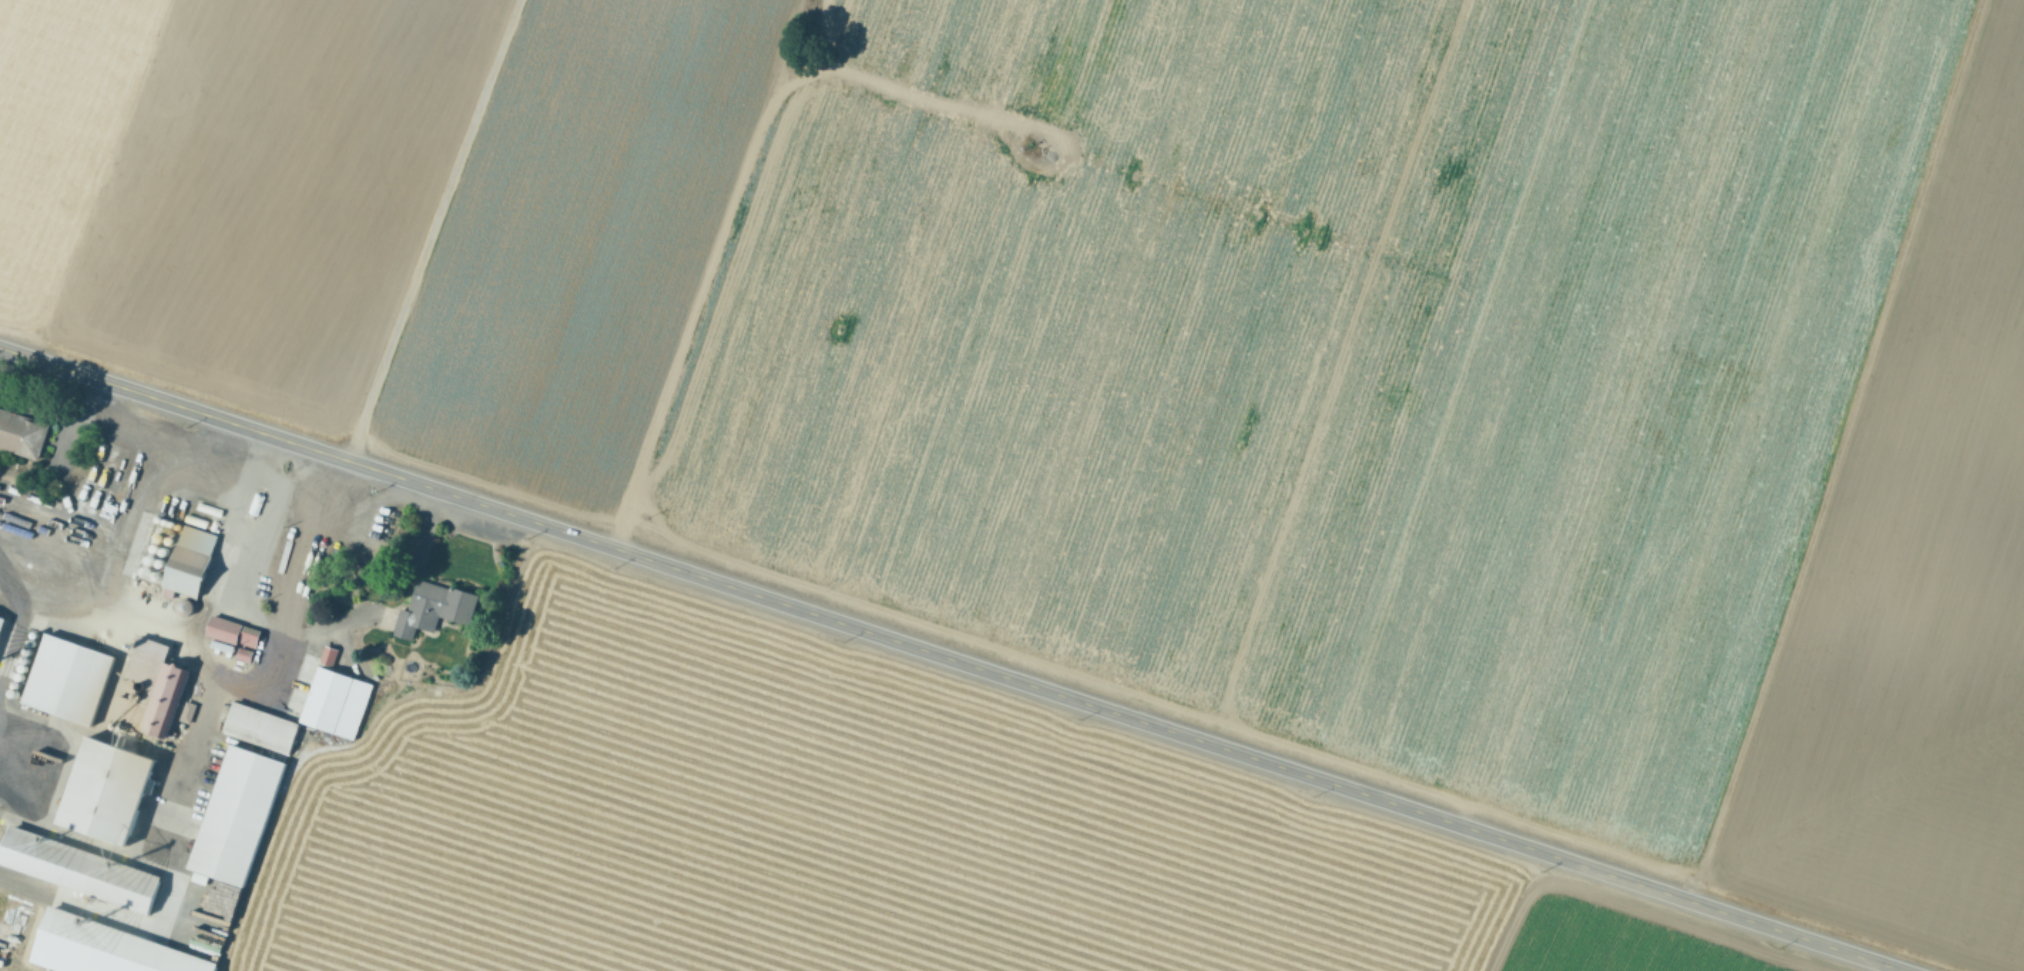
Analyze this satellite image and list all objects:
road: (430, 230)
crop: (1181, 354)
road: (51, 407)
building: (20, 432)
road: (153, 436)
building: (1536, 464)
road: (259, 486)
building: (184, 561)
road: (109, 563)
building: (430, 608)
building: (230, 634)
road: (951, 659)
building: (65, 679)
building: (145, 689)
building: (332, 702)
building: (257, 725)
crop: (592, 780)
building: (101, 789)
building: (233, 814)
building: (76, 868)

